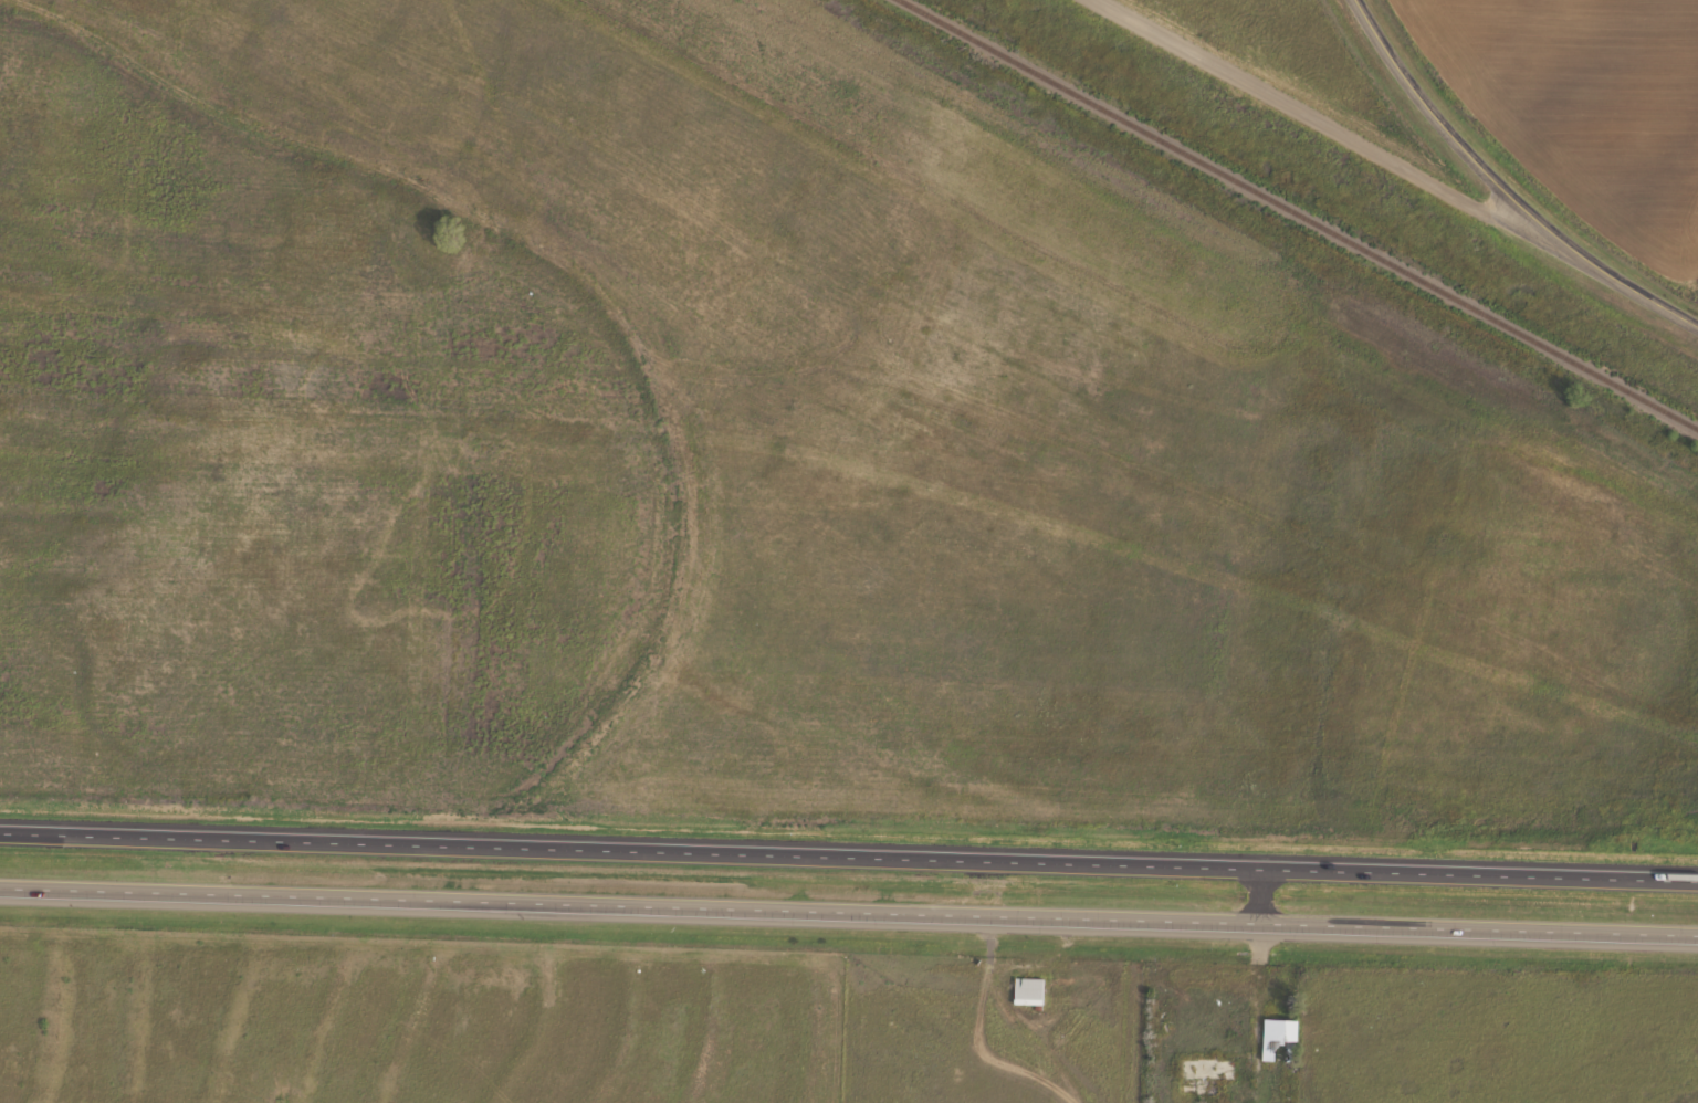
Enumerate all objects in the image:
road: (1439, 107)
road: (1306, 109)
railway: (1298, 214)
road: (1607, 265)
road: (848, 849)
road: (1257, 889)
road: (848, 905)
building: (1026, 989)
building: (1277, 1038)
building: (1202, 1071)

